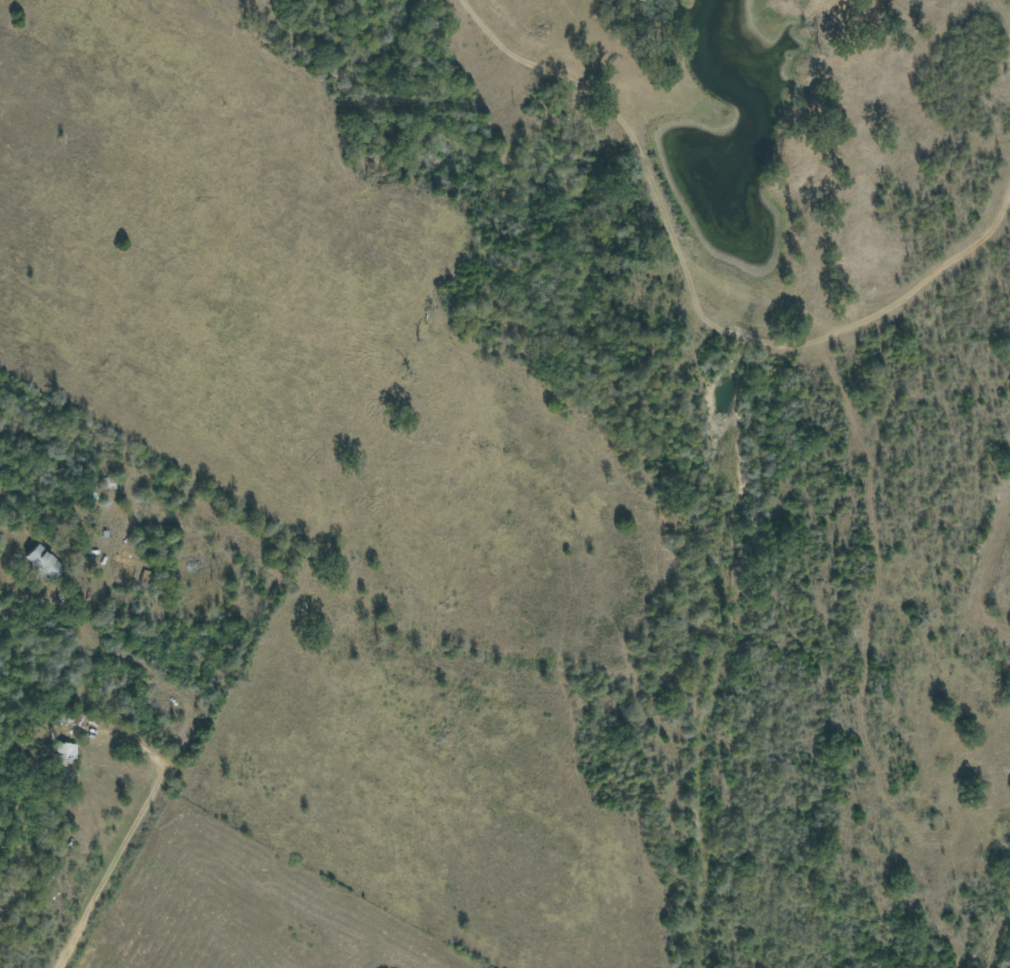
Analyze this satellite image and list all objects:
road: (674, 331)
building: (43, 562)
road: (162, 688)
building: (66, 752)
road: (85, 912)

